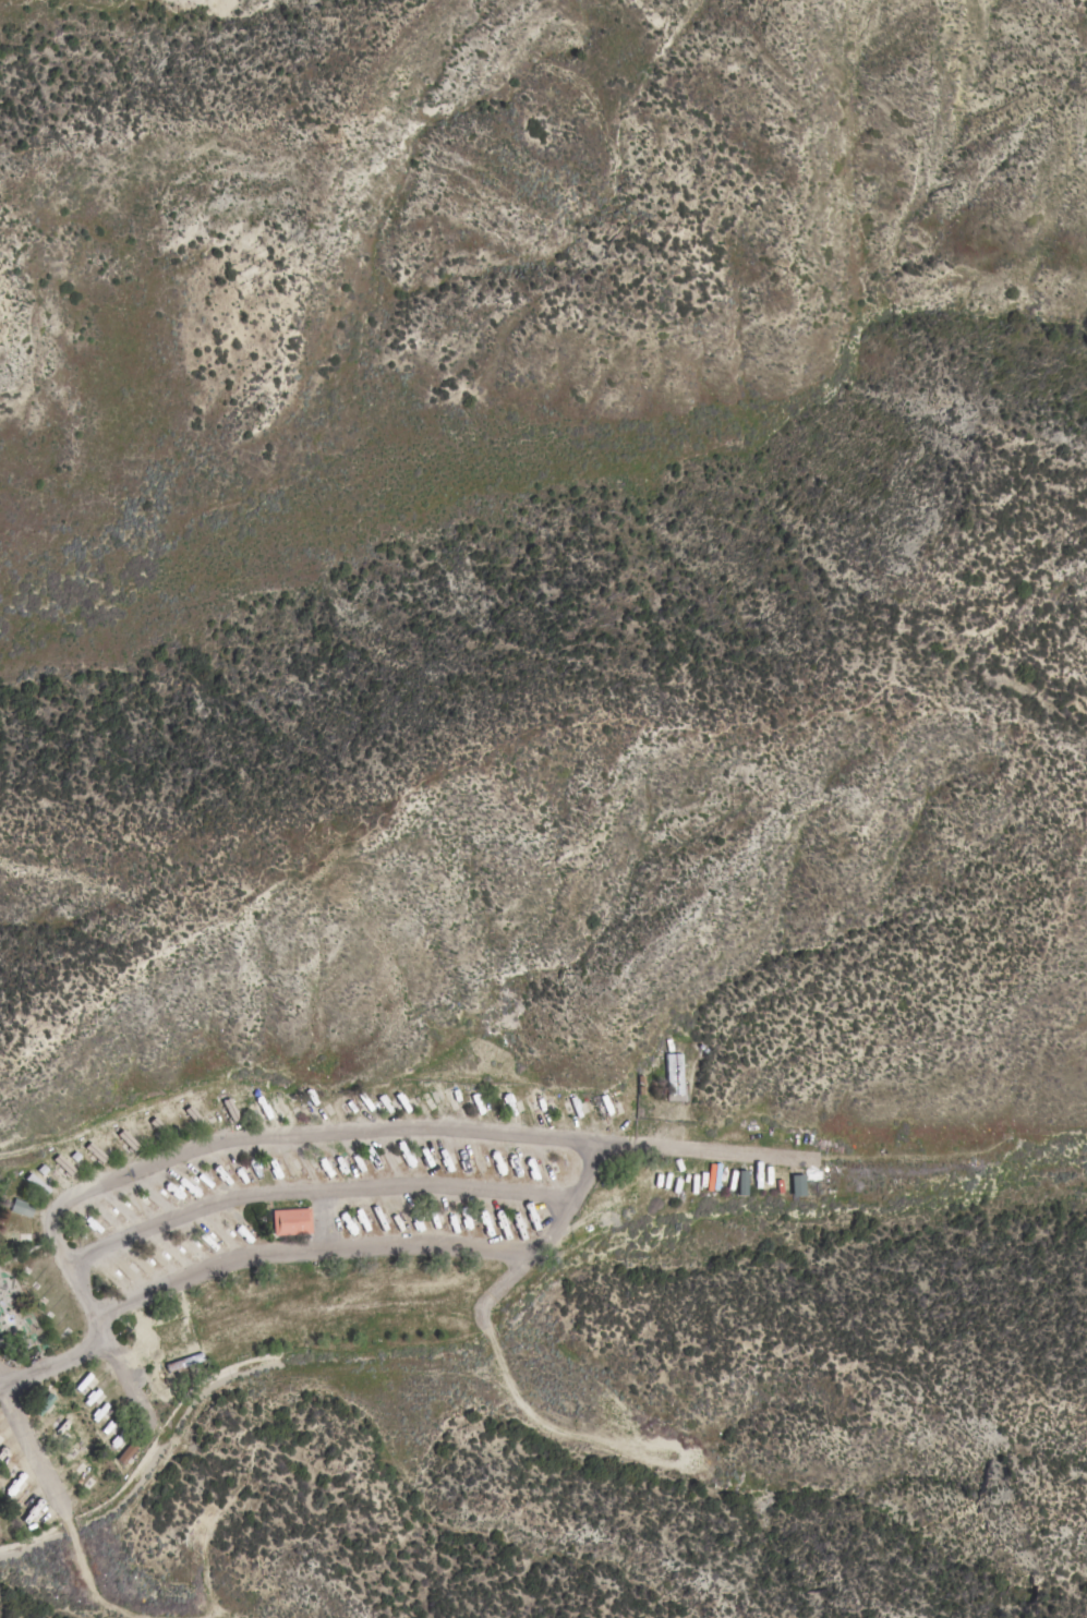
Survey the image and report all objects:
building: (674, 1074)
building: (230, 1110)
building: (193, 1115)
building: (159, 1127)
road: (540, 1136)
building: (126, 1139)
building: (95, 1151)
building: (63, 1164)
building: (545, 1169)
building: (715, 1175)
building: (710, 1176)
building: (740, 1182)
building: (37, 1183)
building: (796, 1185)
building: (22, 1207)
building: (290, 1221)
building: (183, 1362)
road: (50, 1364)
building: (43, 1404)
building: (98, 1412)
road: (32, 1449)
building: (126, 1451)

